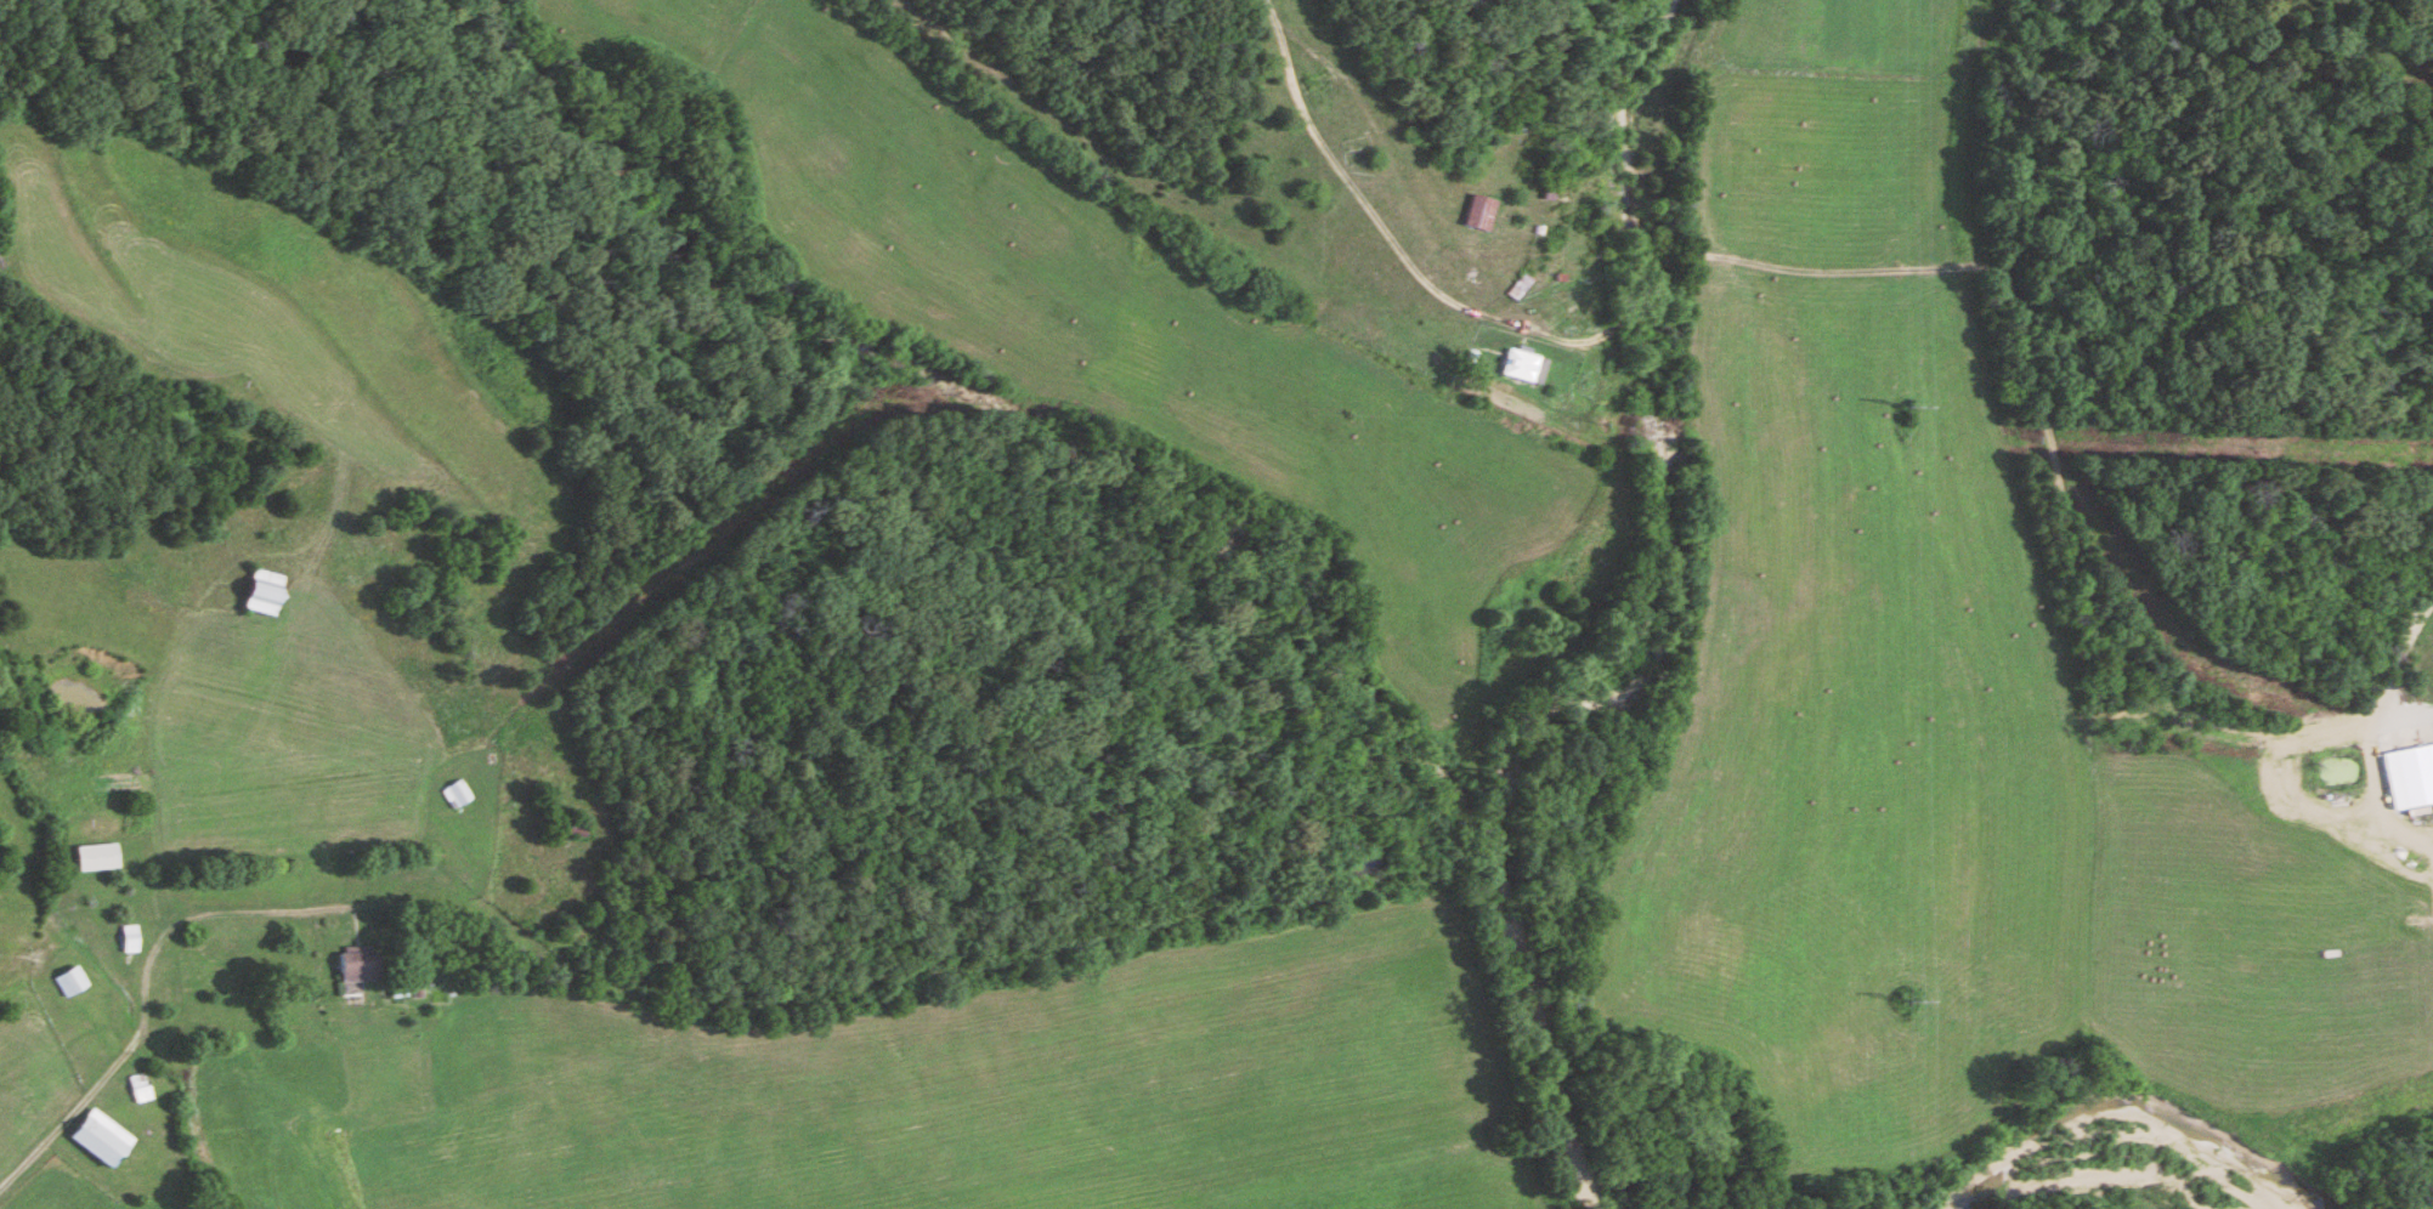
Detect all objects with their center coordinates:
building: (1481, 212)
building: (1520, 286)
building: (1523, 367)
power tower: (1913, 408)
building: (262, 592)
road: (2407, 642)
building: (2417, 776)
building: (458, 794)
building: (97, 858)
building: (130, 940)
building: (358, 967)
building: (72, 982)
power tower: (1912, 1004)
building: (101, 1139)
road: (32, 1151)

